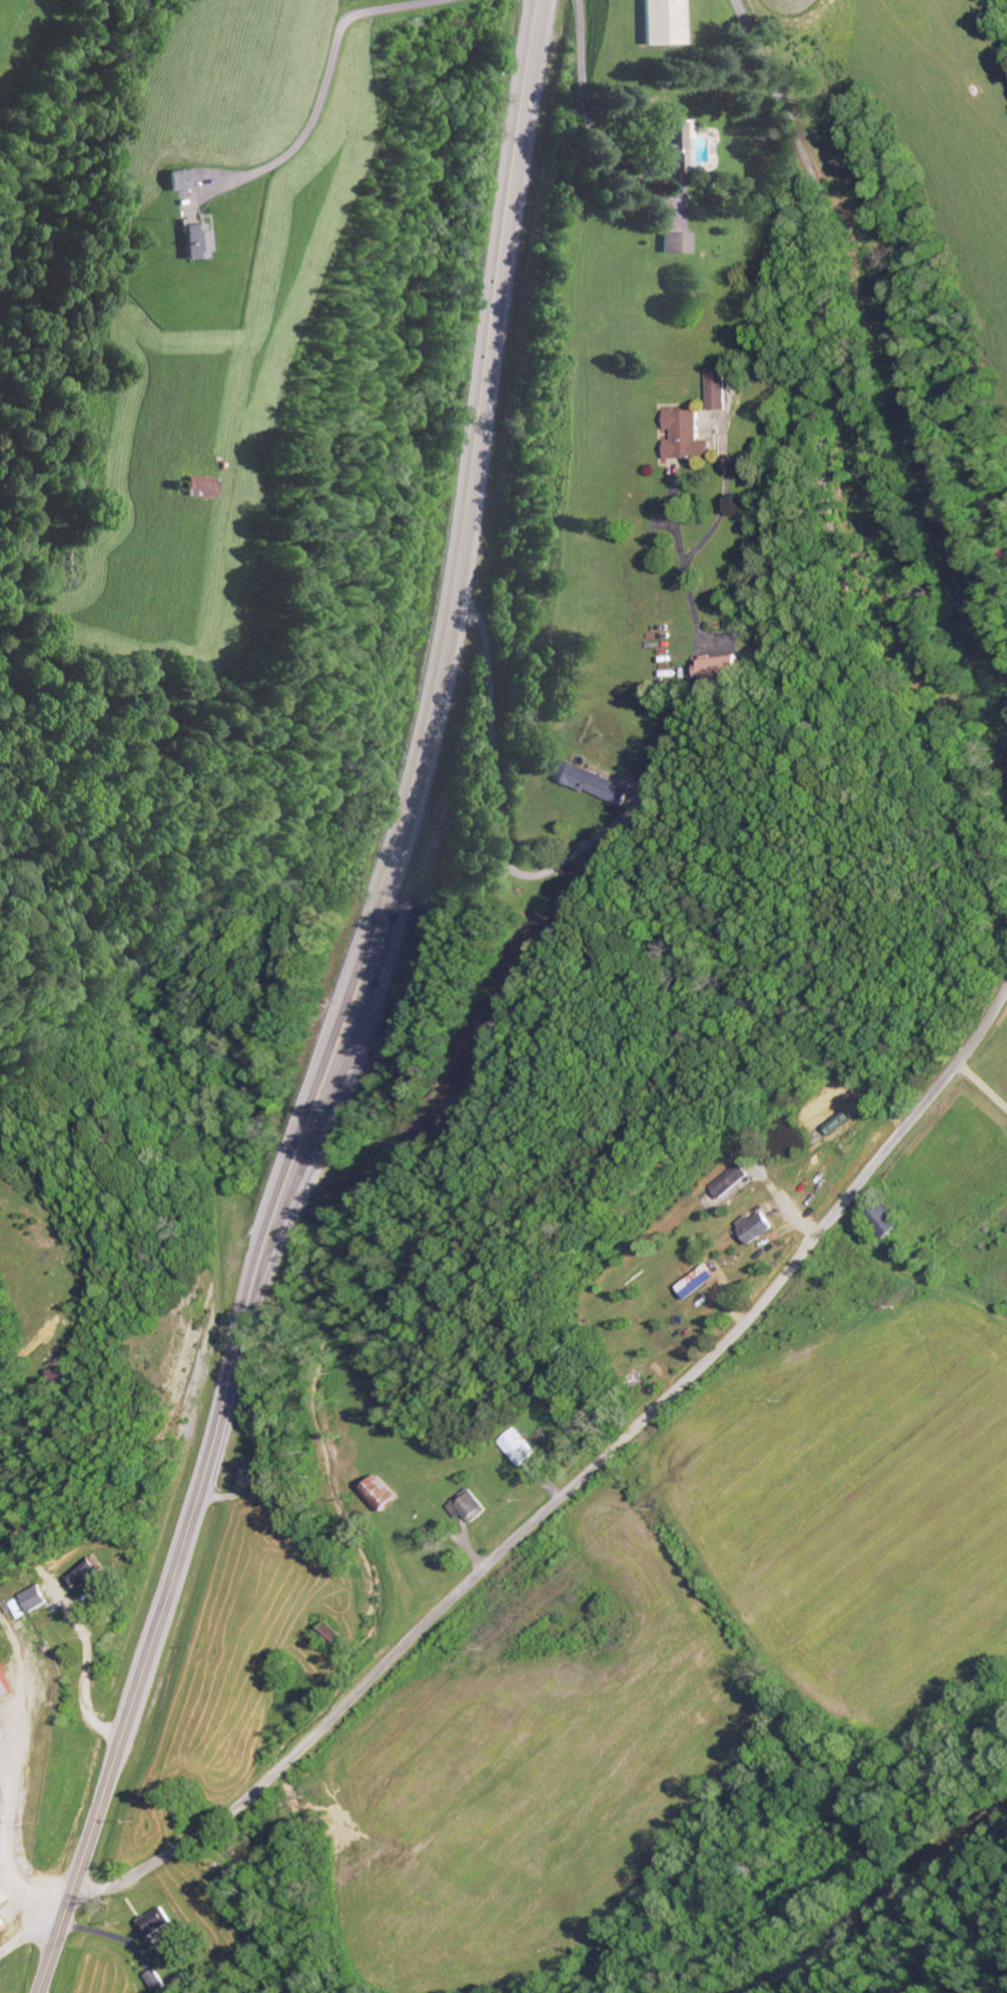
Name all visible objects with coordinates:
building: (662, 22)
building: (675, 141)
building: (179, 179)
building: (195, 239)
building: (676, 242)
building: (717, 387)
building: (682, 436)
road: (825, 454)
building: (200, 486)
building: (718, 666)
building: (591, 783)
road: (1000, 995)
road: (346, 1010)
building: (833, 1123)
building: (725, 1180)
building: (880, 1219)
building: (751, 1227)
building: (692, 1282)
road: (272, 1369)
building: (513, 1447)
road: (577, 1479)
building: (376, 1493)
building: (465, 1505)
building: (77, 1573)
building: (28, 1598)
building: (3, 1687)
building: (152, 1921)
building: (0, 1928)
road: (26, 1934)
building: (151, 1979)

